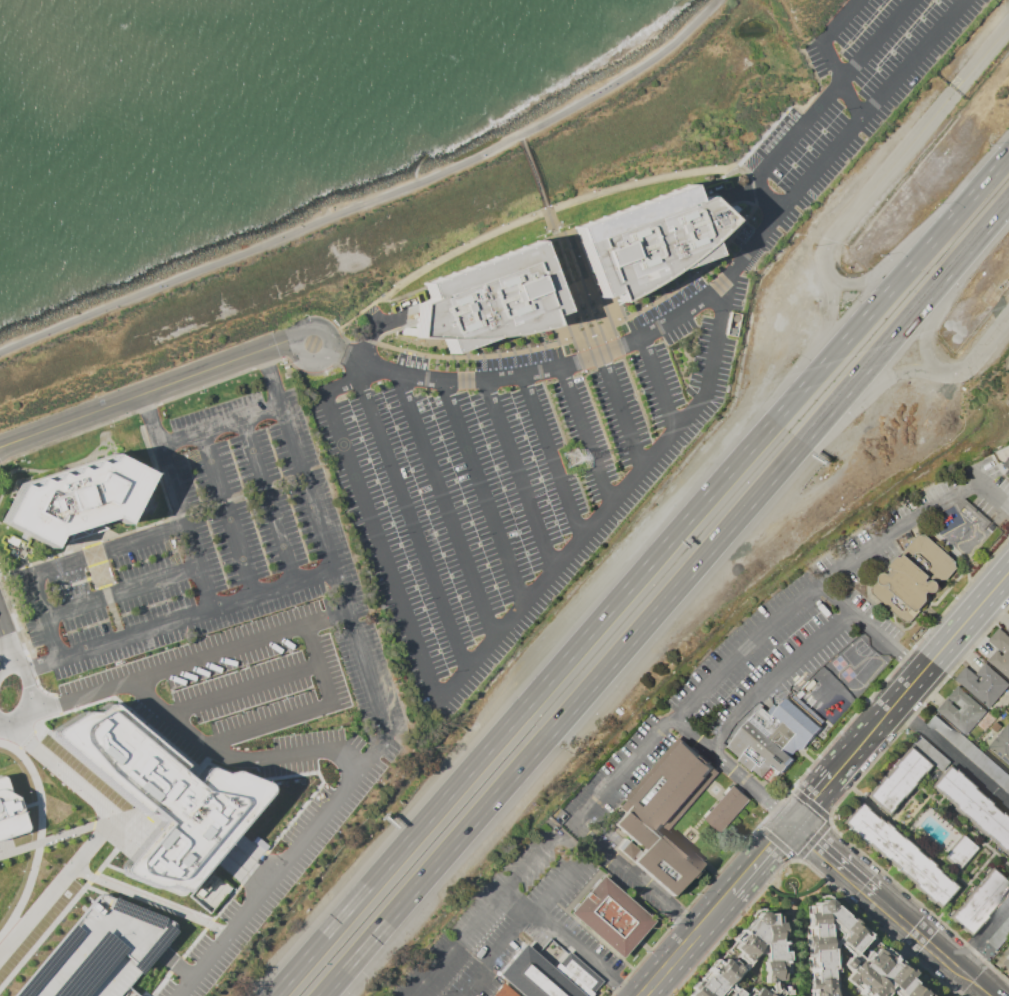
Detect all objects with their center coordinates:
road: (840, 21)
road: (841, 80)
road: (818, 104)
road: (522, 138)
road: (840, 142)
road: (907, 149)
road: (536, 176)
road: (531, 218)
building: (657, 239)
road: (899, 261)
building: (485, 300)
road: (940, 300)
road: (315, 326)
road: (822, 352)
road: (982, 354)
road: (345, 355)
road: (307, 362)
road: (549, 373)
road: (346, 384)
road: (658, 386)
road: (865, 387)
road: (146, 394)
road: (182, 394)
parking lot: (587, 394)
road: (622, 413)
road: (217, 422)
road: (586, 437)
road: (551, 458)
power tower: (576, 458)
building: (1006, 465)
road: (520, 475)
road: (484, 492)
building: (74, 497)
road: (267, 500)
road: (447, 507)
road: (227, 513)
road: (412, 525)
road: (64, 562)
road: (195, 565)
road: (641, 575)
building: (914, 577)
road: (119, 590)
road: (668, 601)
road: (858, 615)
road: (774, 620)
road: (504, 625)
road: (14, 626)
building: (1008, 628)
road: (272, 634)
road: (114, 635)
road: (5, 638)
building: (1000, 651)
road: (5, 659)
road: (910, 659)
road: (900, 660)
road: (25, 680)
road: (780, 680)
building: (983, 683)
road: (242, 688)
road: (900, 695)
road: (376, 703)
building: (961, 709)
road: (17, 714)
road: (691, 733)
building: (777, 734)
building: (1002, 744)
road: (952, 751)
road: (234, 758)
building: (896, 780)
road: (750, 786)
building: (160, 794)
road: (836, 802)
building: (727, 808)
building: (972, 808)
building: (10, 813)
building: (665, 814)
road: (99, 826)
road: (37, 834)
road: (811, 839)
building: (958, 851)
building: (897, 854)
road: (758, 858)
road: (623, 870)
road: (520, 872)
building: (208, 891)
road: (700, 891)
road: (144, 899)
building: (977, 901)
road: (891, 908)
building: (636, 917)
road: (685, 925)
road: (729, 925)
road: (876, 926)
road: (981, 932)
road: (561, 938)
road: (681, 944)
building: (98, 952)
road: (492, 952)
building: (744, 956)
building: (849, 960)
building: (1007, 963)
building: (548, 973)
building: (503, 991)
road: (624, 991)
building: (756, 992)

